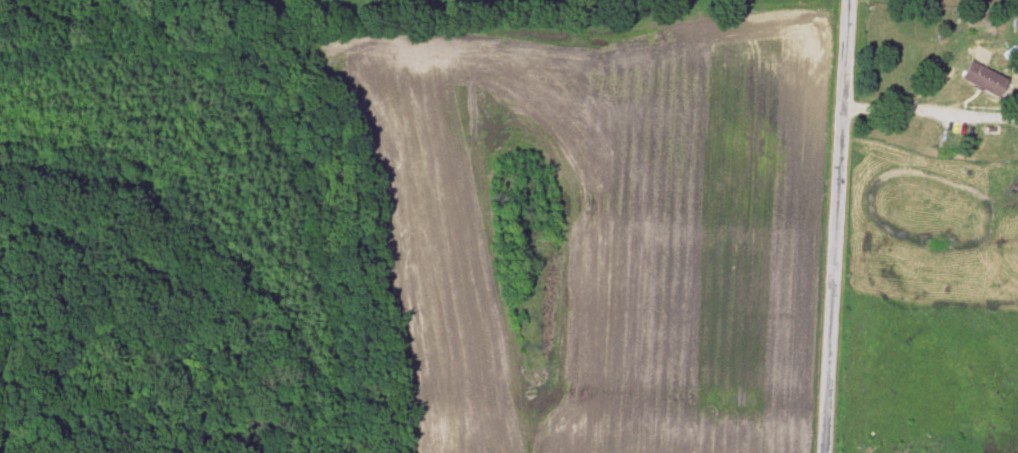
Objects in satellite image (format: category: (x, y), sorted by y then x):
building: (979, 79)
road: (901, 108)
road: (837, 226)

